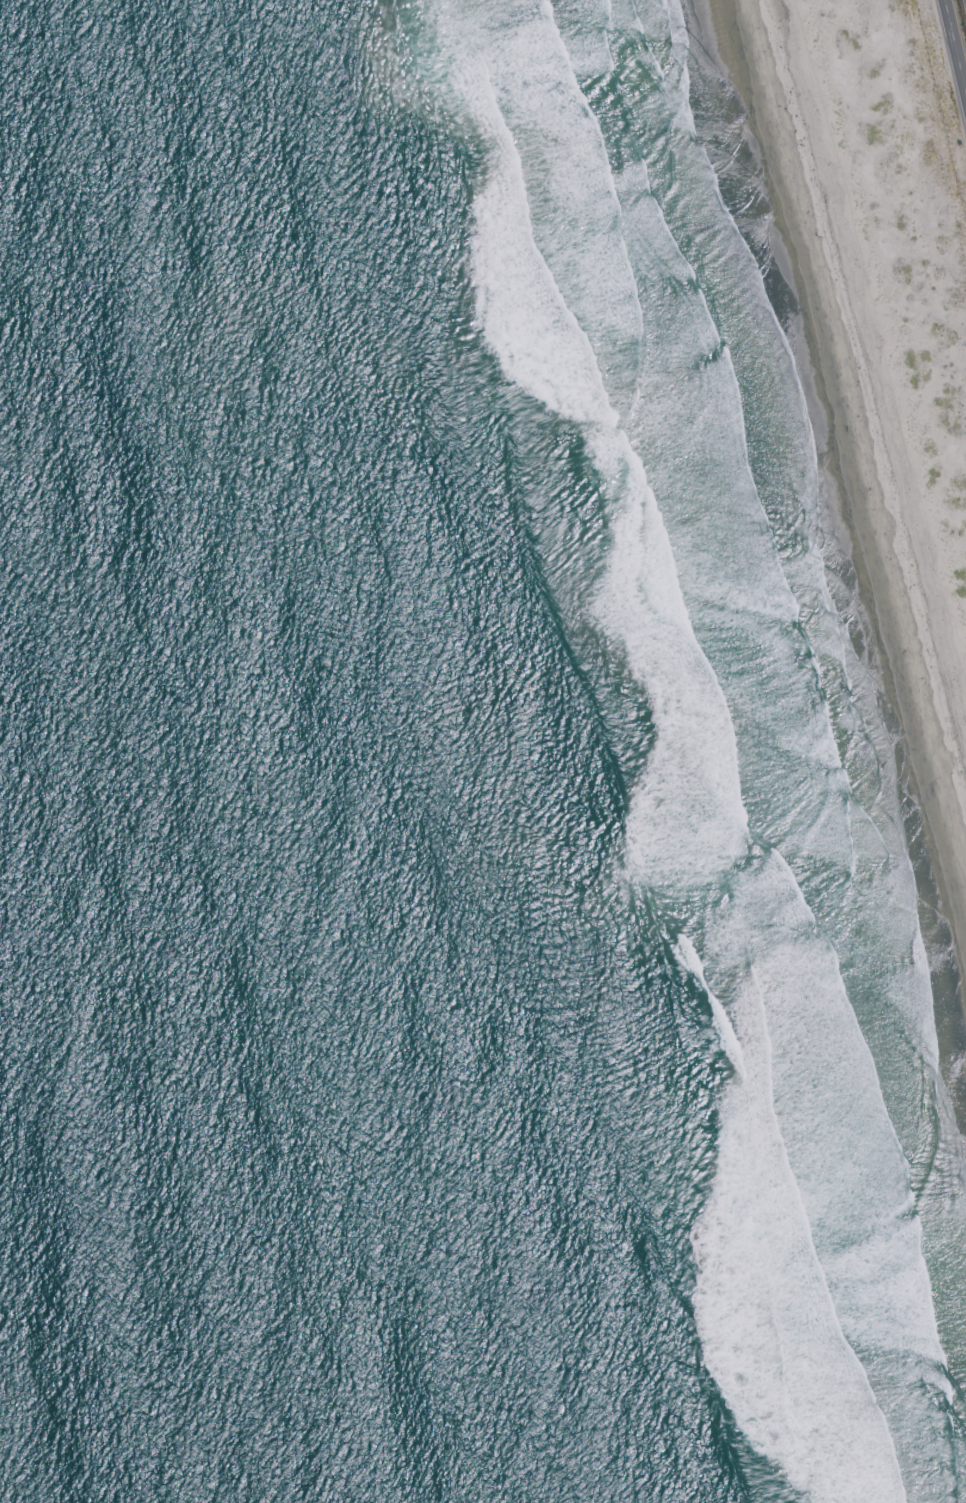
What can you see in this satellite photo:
road: (953, 55)

